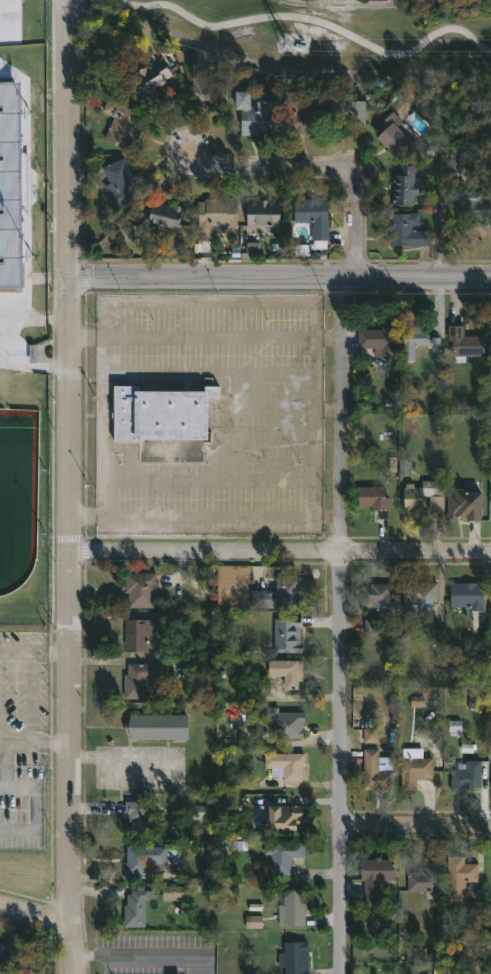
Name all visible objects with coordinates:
road: (341, 4)
road: (308, 17)
parking lot: (10, 20)
power tower: (296, 43)
building: (153, 75)
building: (208, 85)
building: (354, 112)
building: (256, 114)
building: (296, 115)
building: (120, 122)
building: (396, 132)
road: (68, 138)
building: (456, 159)
road: (319, 168)
building: (119, 181)
building: (404, 184)
building: (12, 185)
building: (470, 204)
building: (261, 212)
building: (215, 216)
building: (159, 217)
building: (312, 217)
building: (405, 230)
road: (280, 278)
road: (121, 301)
road: (204, 337)
building: (378, 339)
building: (416, 341)
building: (465, 343)
building: (161, 414)
road: (314, 427)
building: (403, 466)
park: (17, 494)
building: (420, 495)
building: (374, 497)
building: (466, 504)
road: (204, 517)
road: (280, 551)
building: (144, 588)
building: (278, 593)
building: (375, 595)
building: (464, 596)
building: (418, 599)
road: (338, 625)
road: (70, 626)
building: (369, 626)
building: (137, 634)
building: (287, 636)
road: (33, 652)
building: (288, 672)
building: (143, 679)
building: (283, 721)
building: (157, 727)
building: (370, 735)
road: (3, 746)
building: (286, 765)
building: (416, 771)
building: (376, 772)
building: (467, 777)
road: (6, 781)
building: (137, 810)
building: (197, 812)
building: (284, 817)
road: (415, 824)
building: (208, 848)
building: (283, 855)
building: (149, 857)
building: (373, 872)
building: (423, 876)
building: (461, 876)
building: (173, 891)
building: (135, 907)
building: (293, 907)
road: (36, 914)
building: (253, 922)
building: (3, 950)
building: (294, 957)

